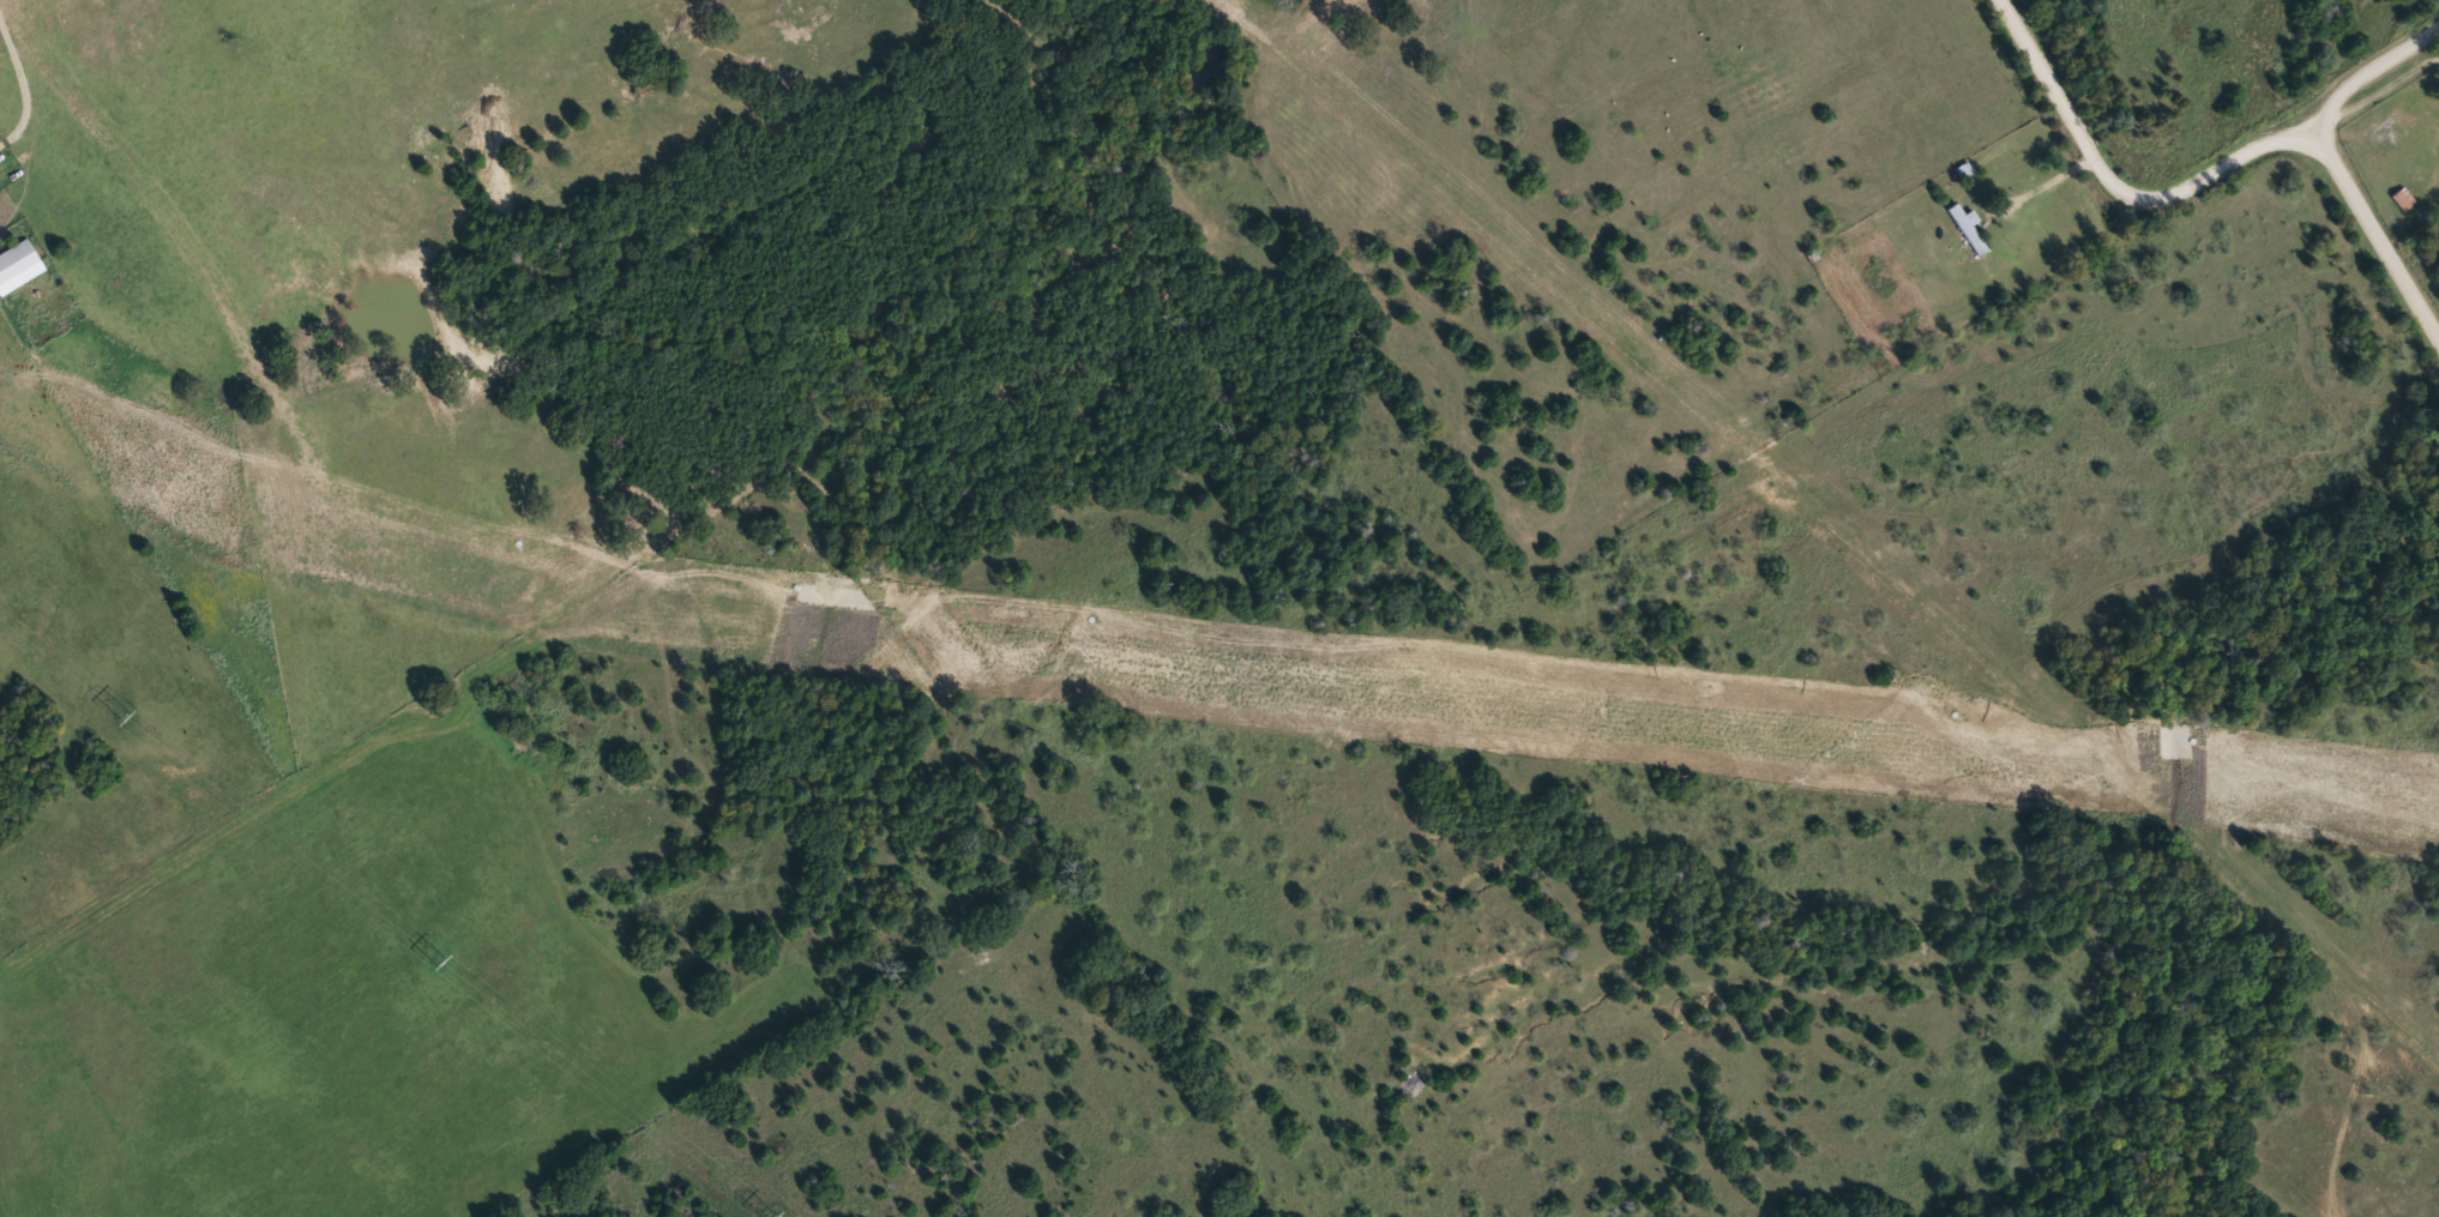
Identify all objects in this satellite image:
road: (1396, 38)
road: (2371, 61)
road: (2391, 149)
road: (2118, 176)
road: (2015, 194)
building: (2402, 197)
road: (2372, 223)
building: (1969, 228)
building: (17, 259)
power tower: (121, 710)
power tower: (440, 953)

